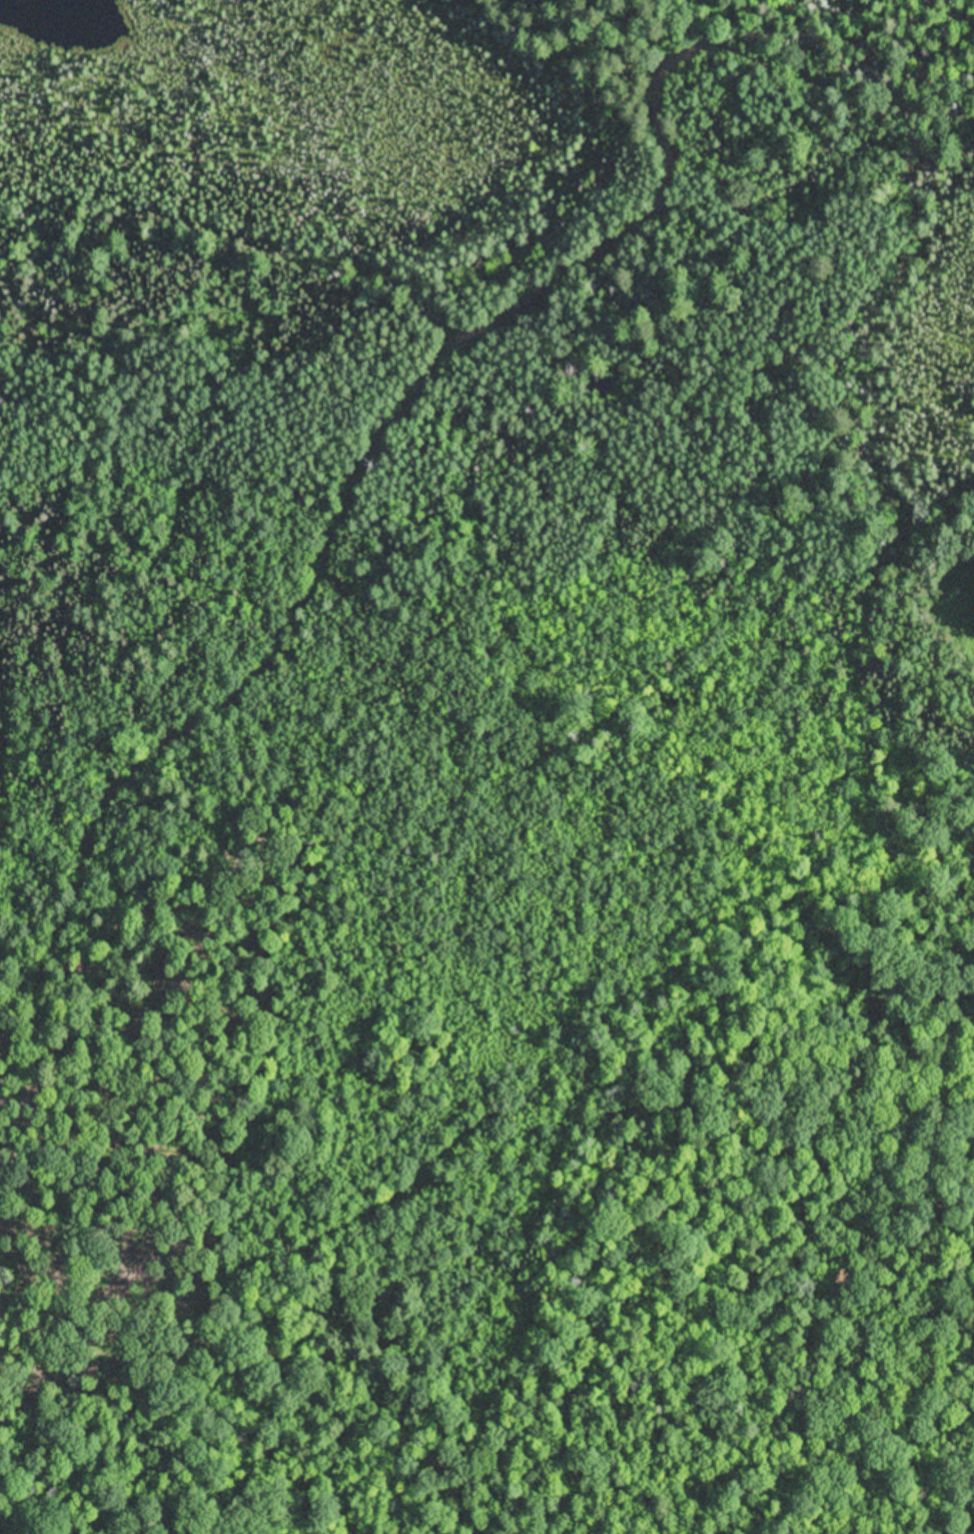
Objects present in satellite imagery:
road: (414, 393)

